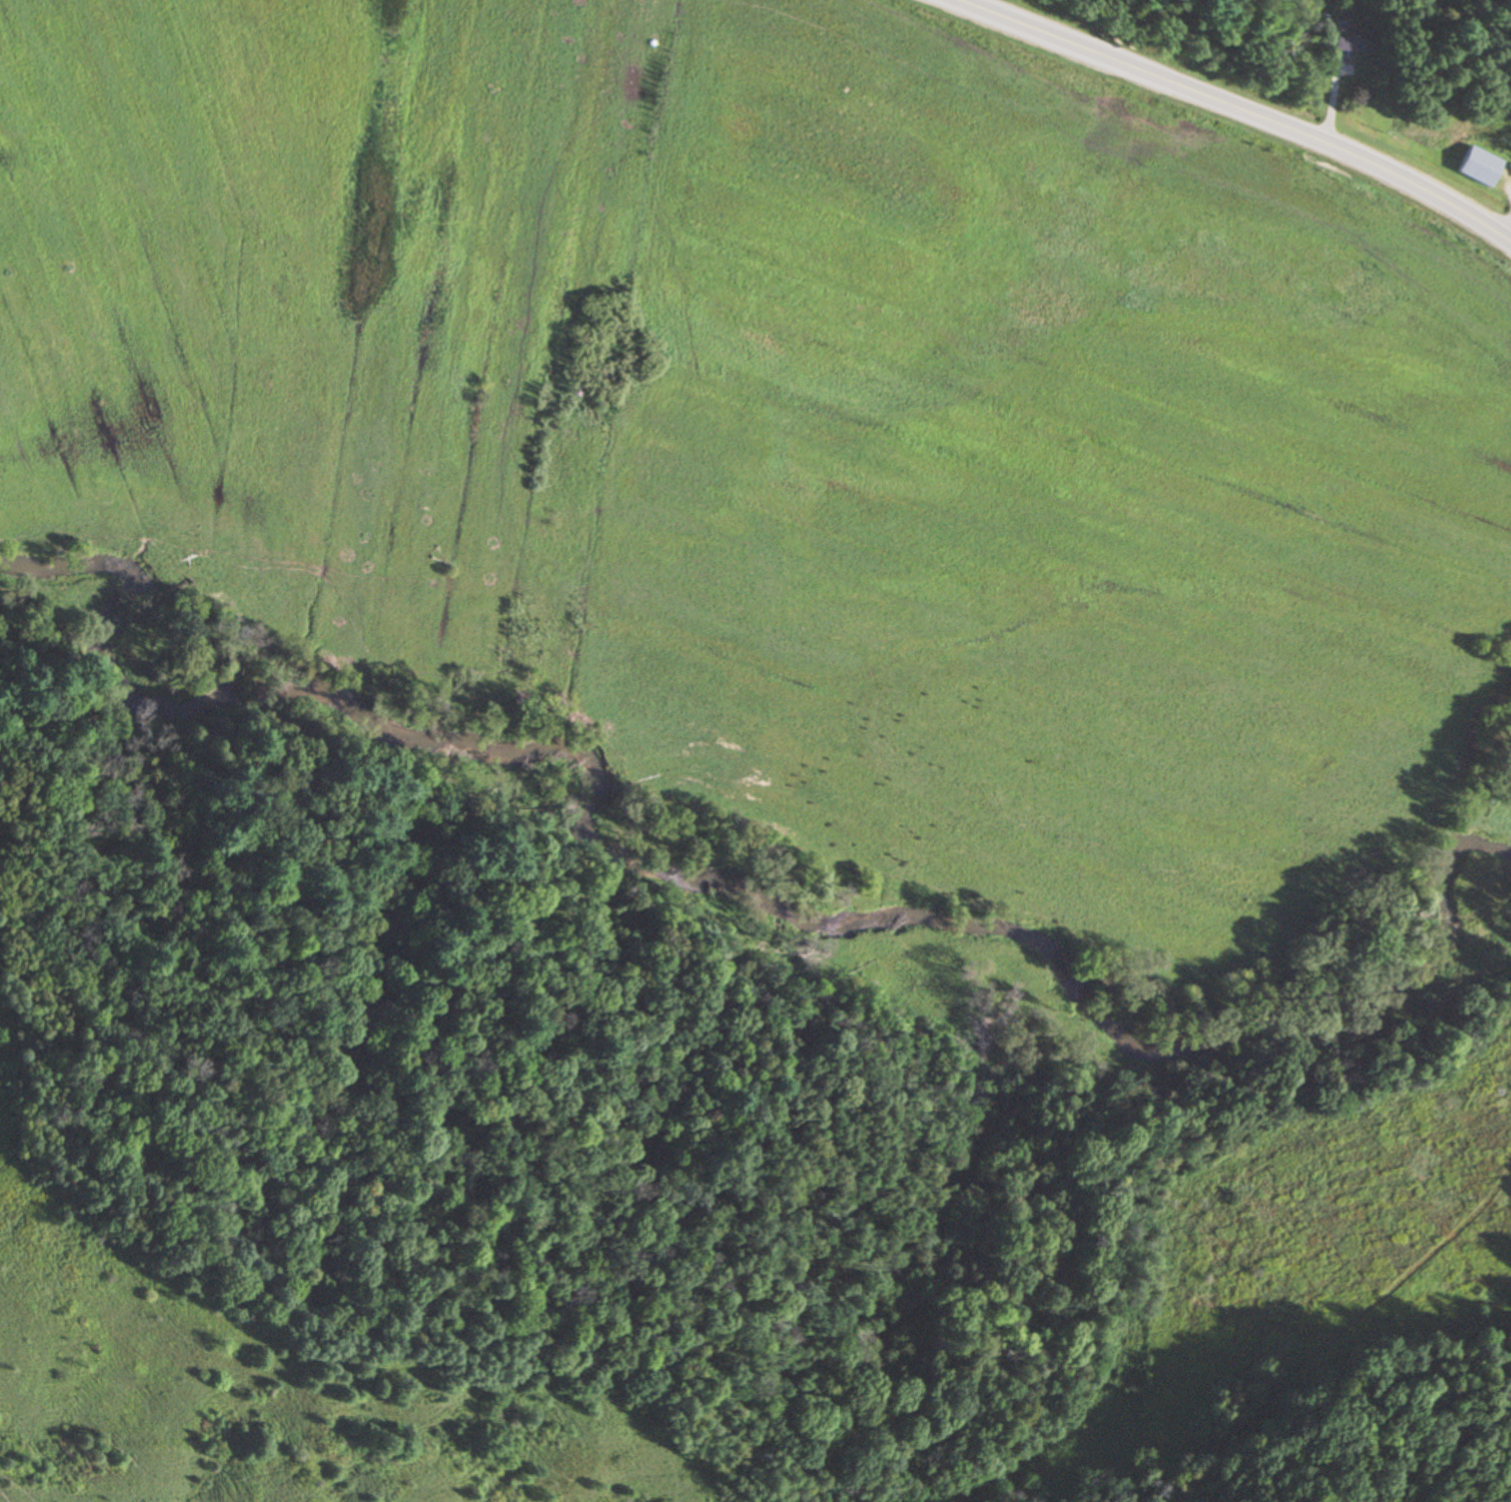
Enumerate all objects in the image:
building: (1344, 39)
road: (1236, 111)
building: (1478, 166)

